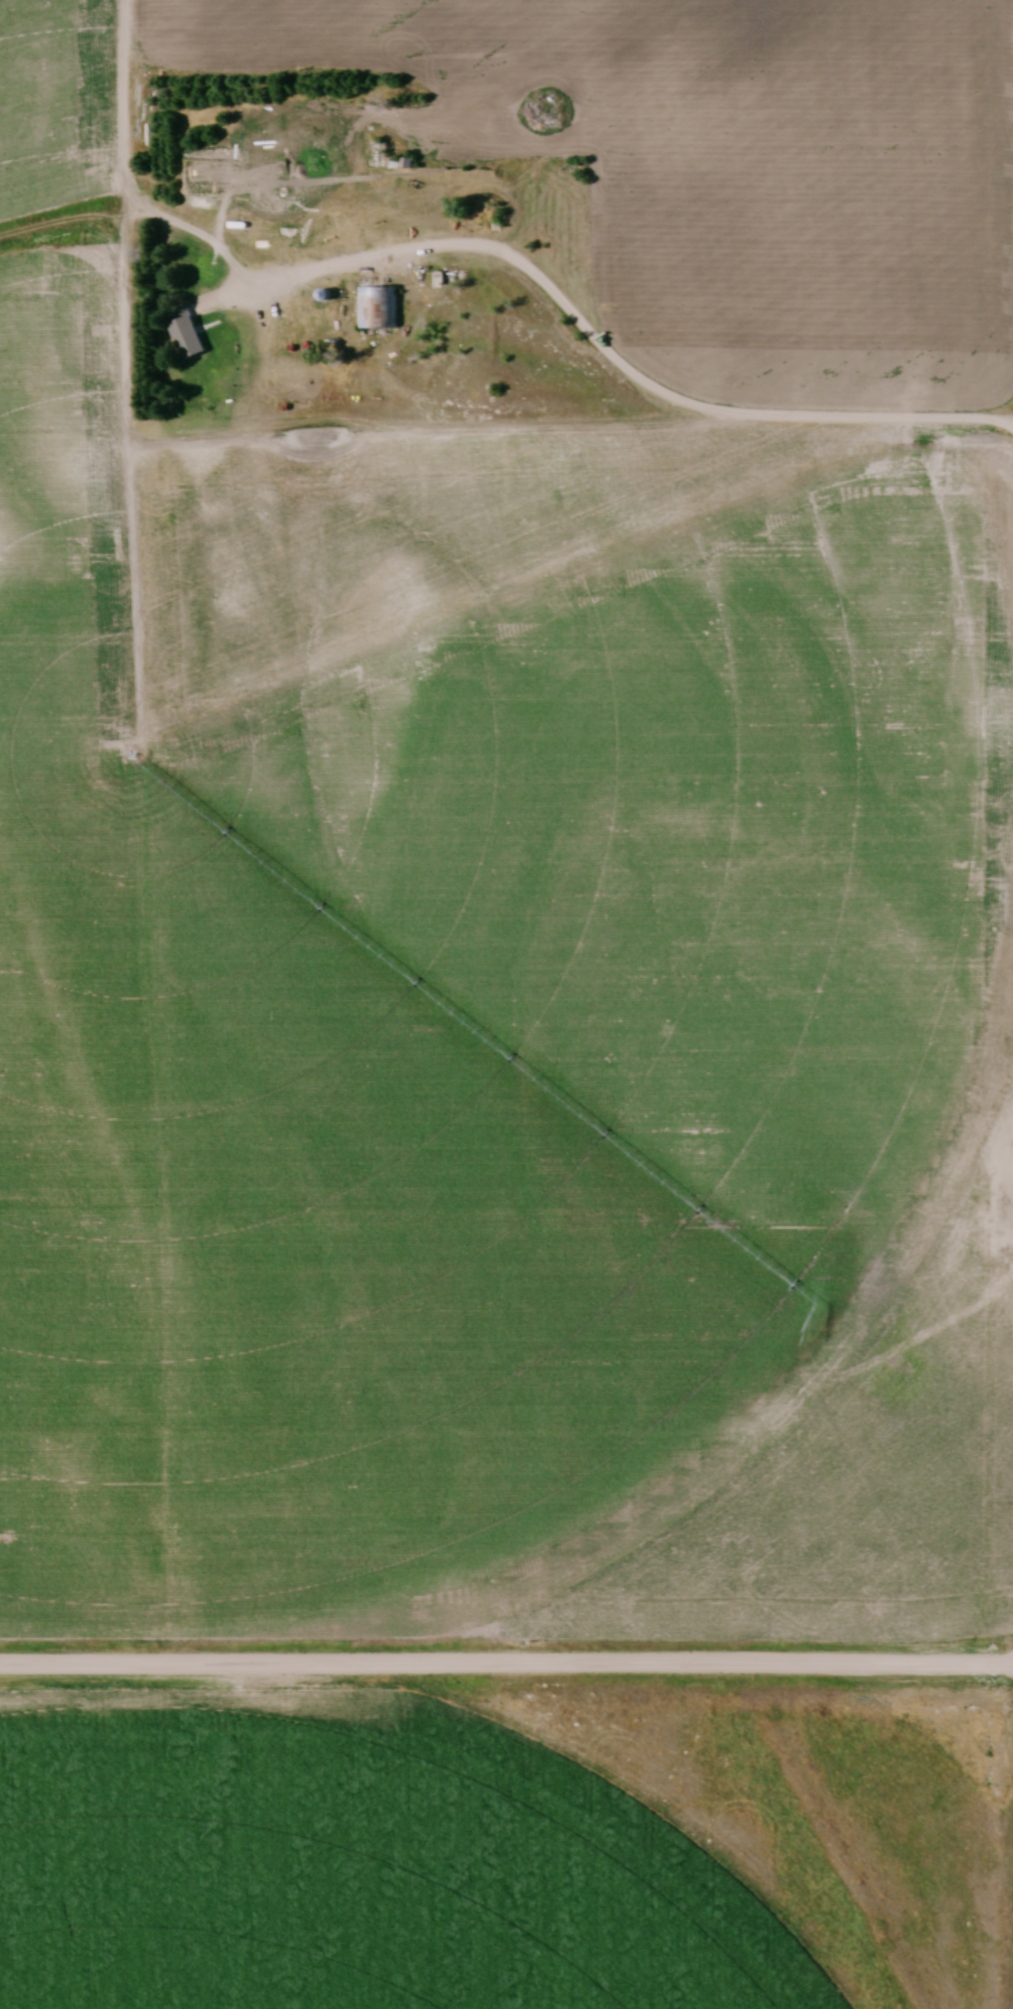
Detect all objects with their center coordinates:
building: (377, 155)
building: (378, 307)
building: (188, 333)
road: (618, 359)
road: (506, 1662)

